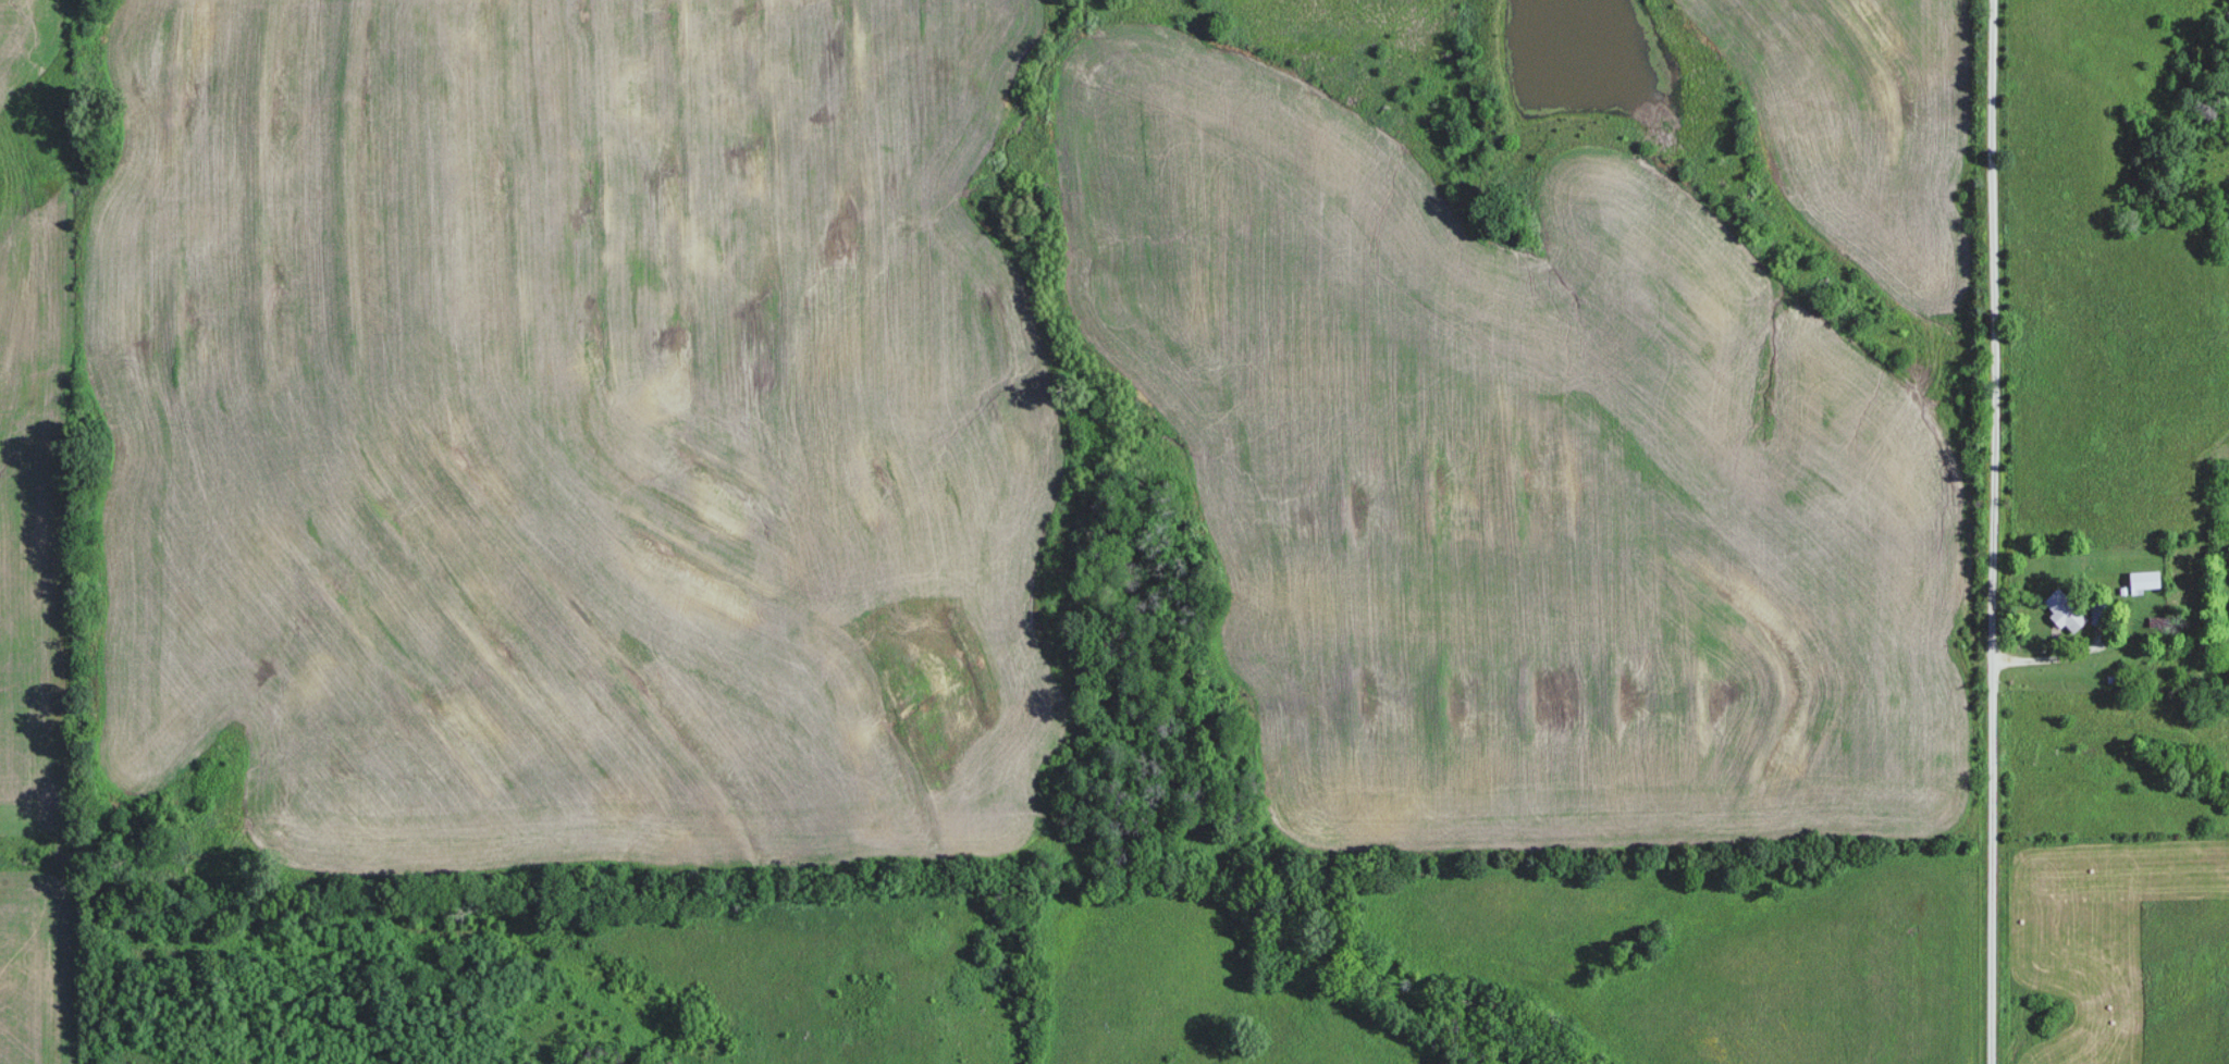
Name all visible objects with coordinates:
road: (1994, 531)
building: (2147, 582)
building: (2066, 611)
building: (2101, 614)

